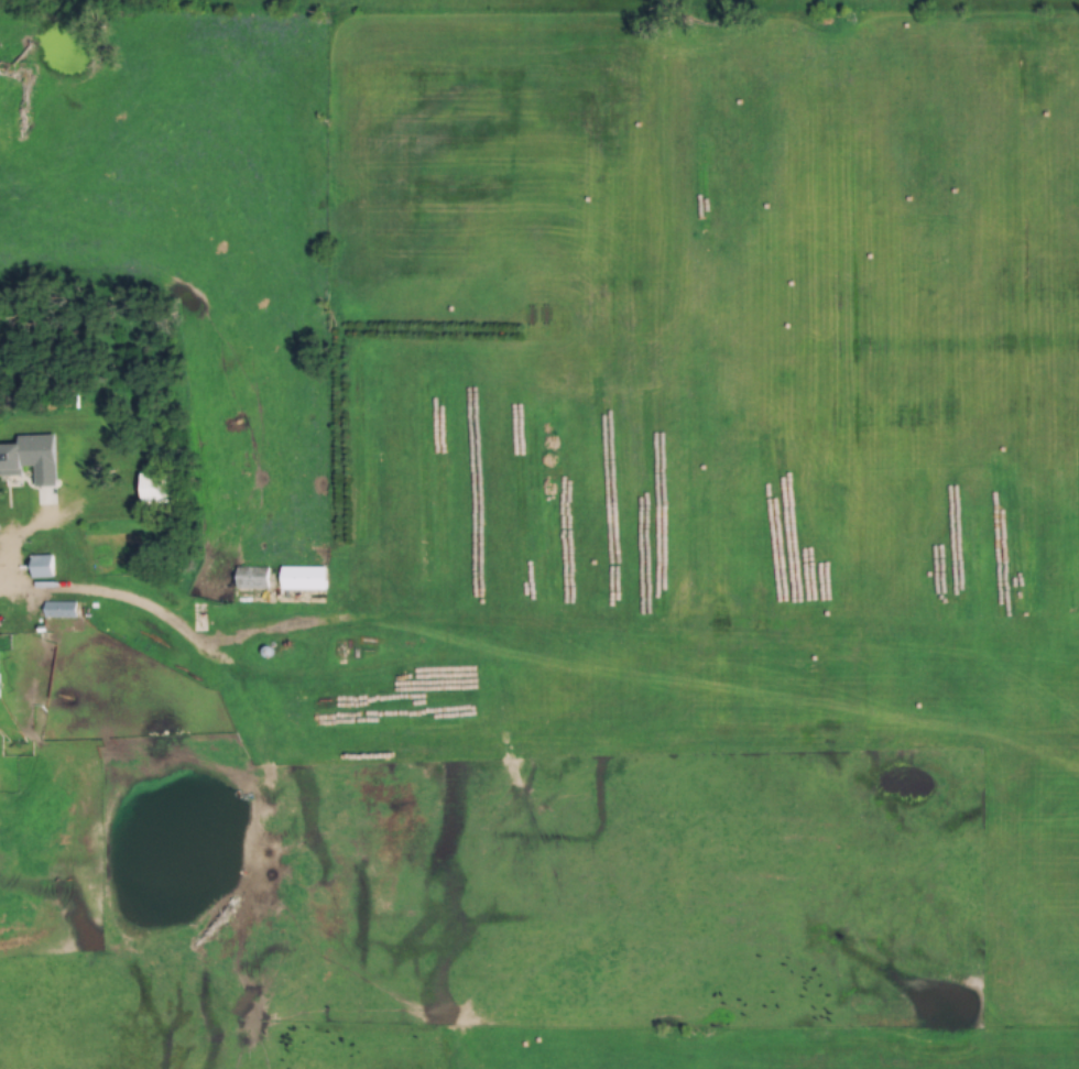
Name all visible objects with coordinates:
building: (9, 461)
building: (152, 488)
building: (40, 566)
building: (301, 580)
building: (251, 585)
building: (58, 610)
road: (148, 611)

